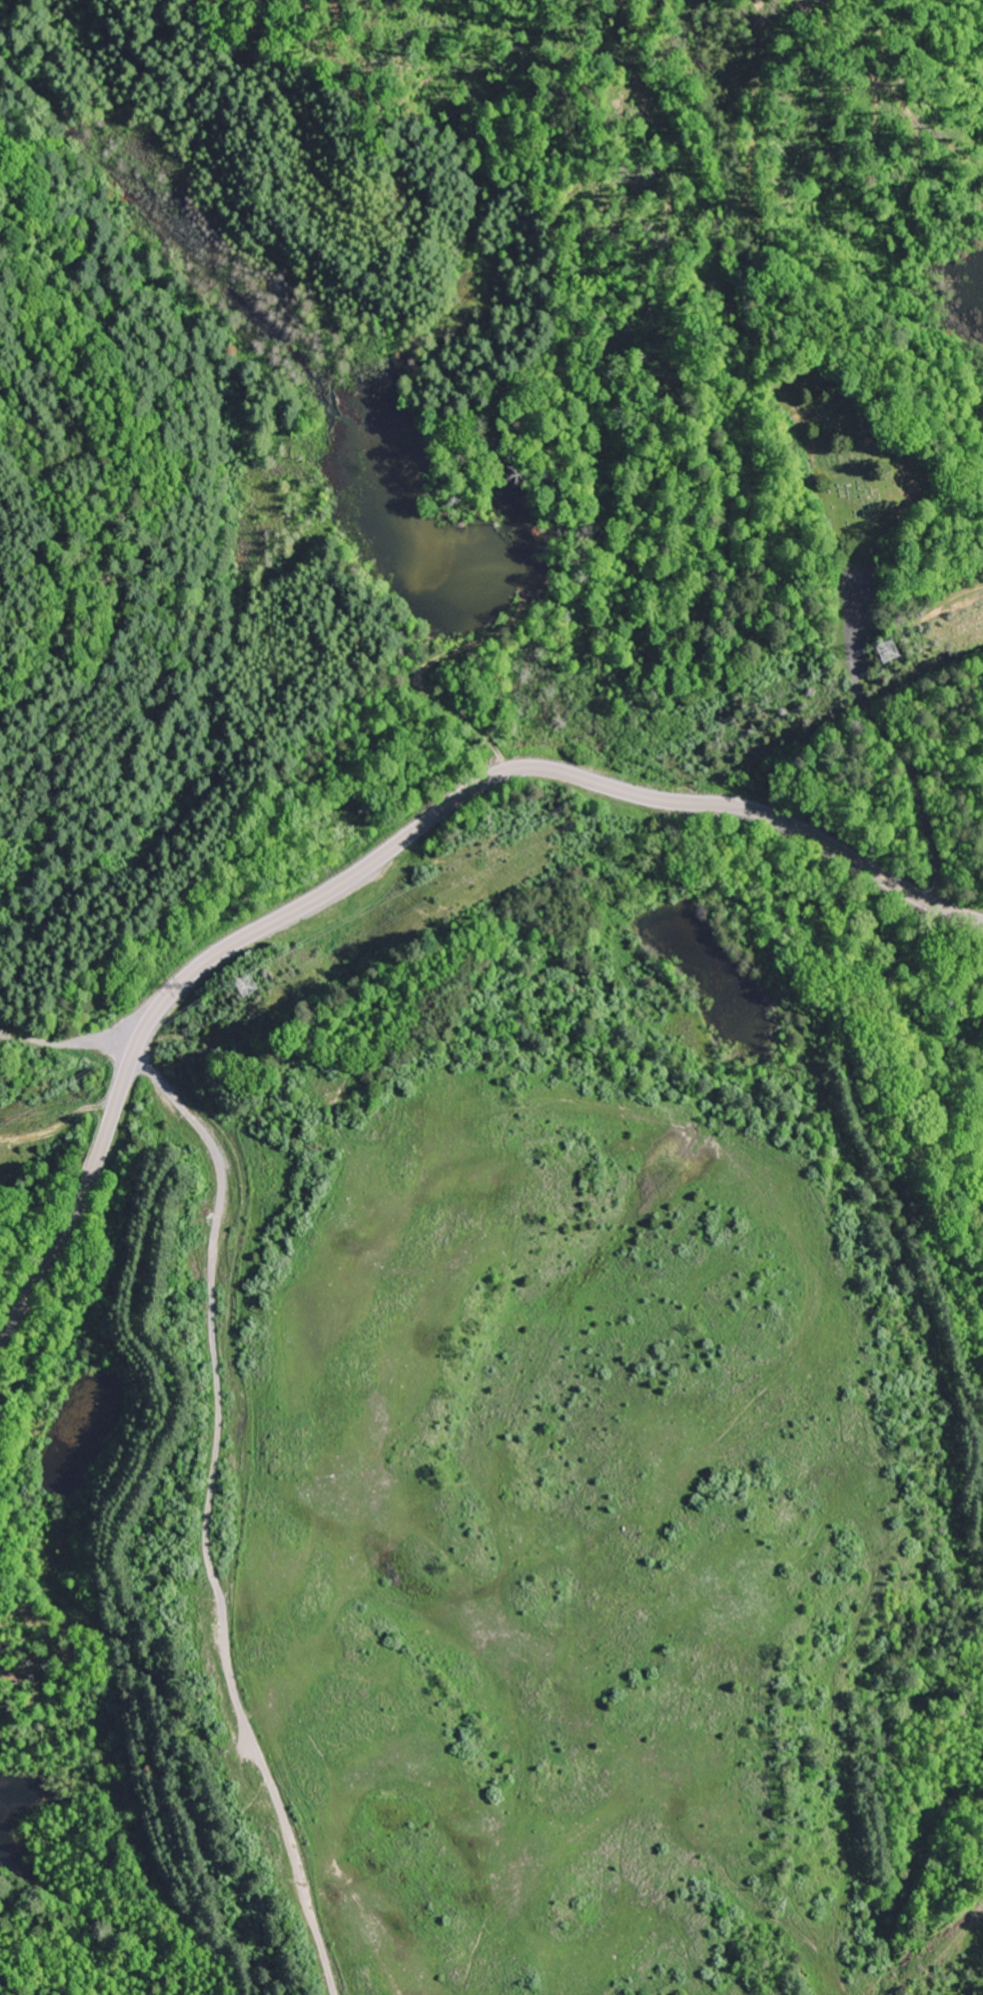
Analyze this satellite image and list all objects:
road: (920, 618)
power tower: (898, 651)
road: (896, 745)
road: (388, 850)
power tower: (257, 984)
road: (77, 1040)
road: (918, 1277)
road: (233, 1515)

